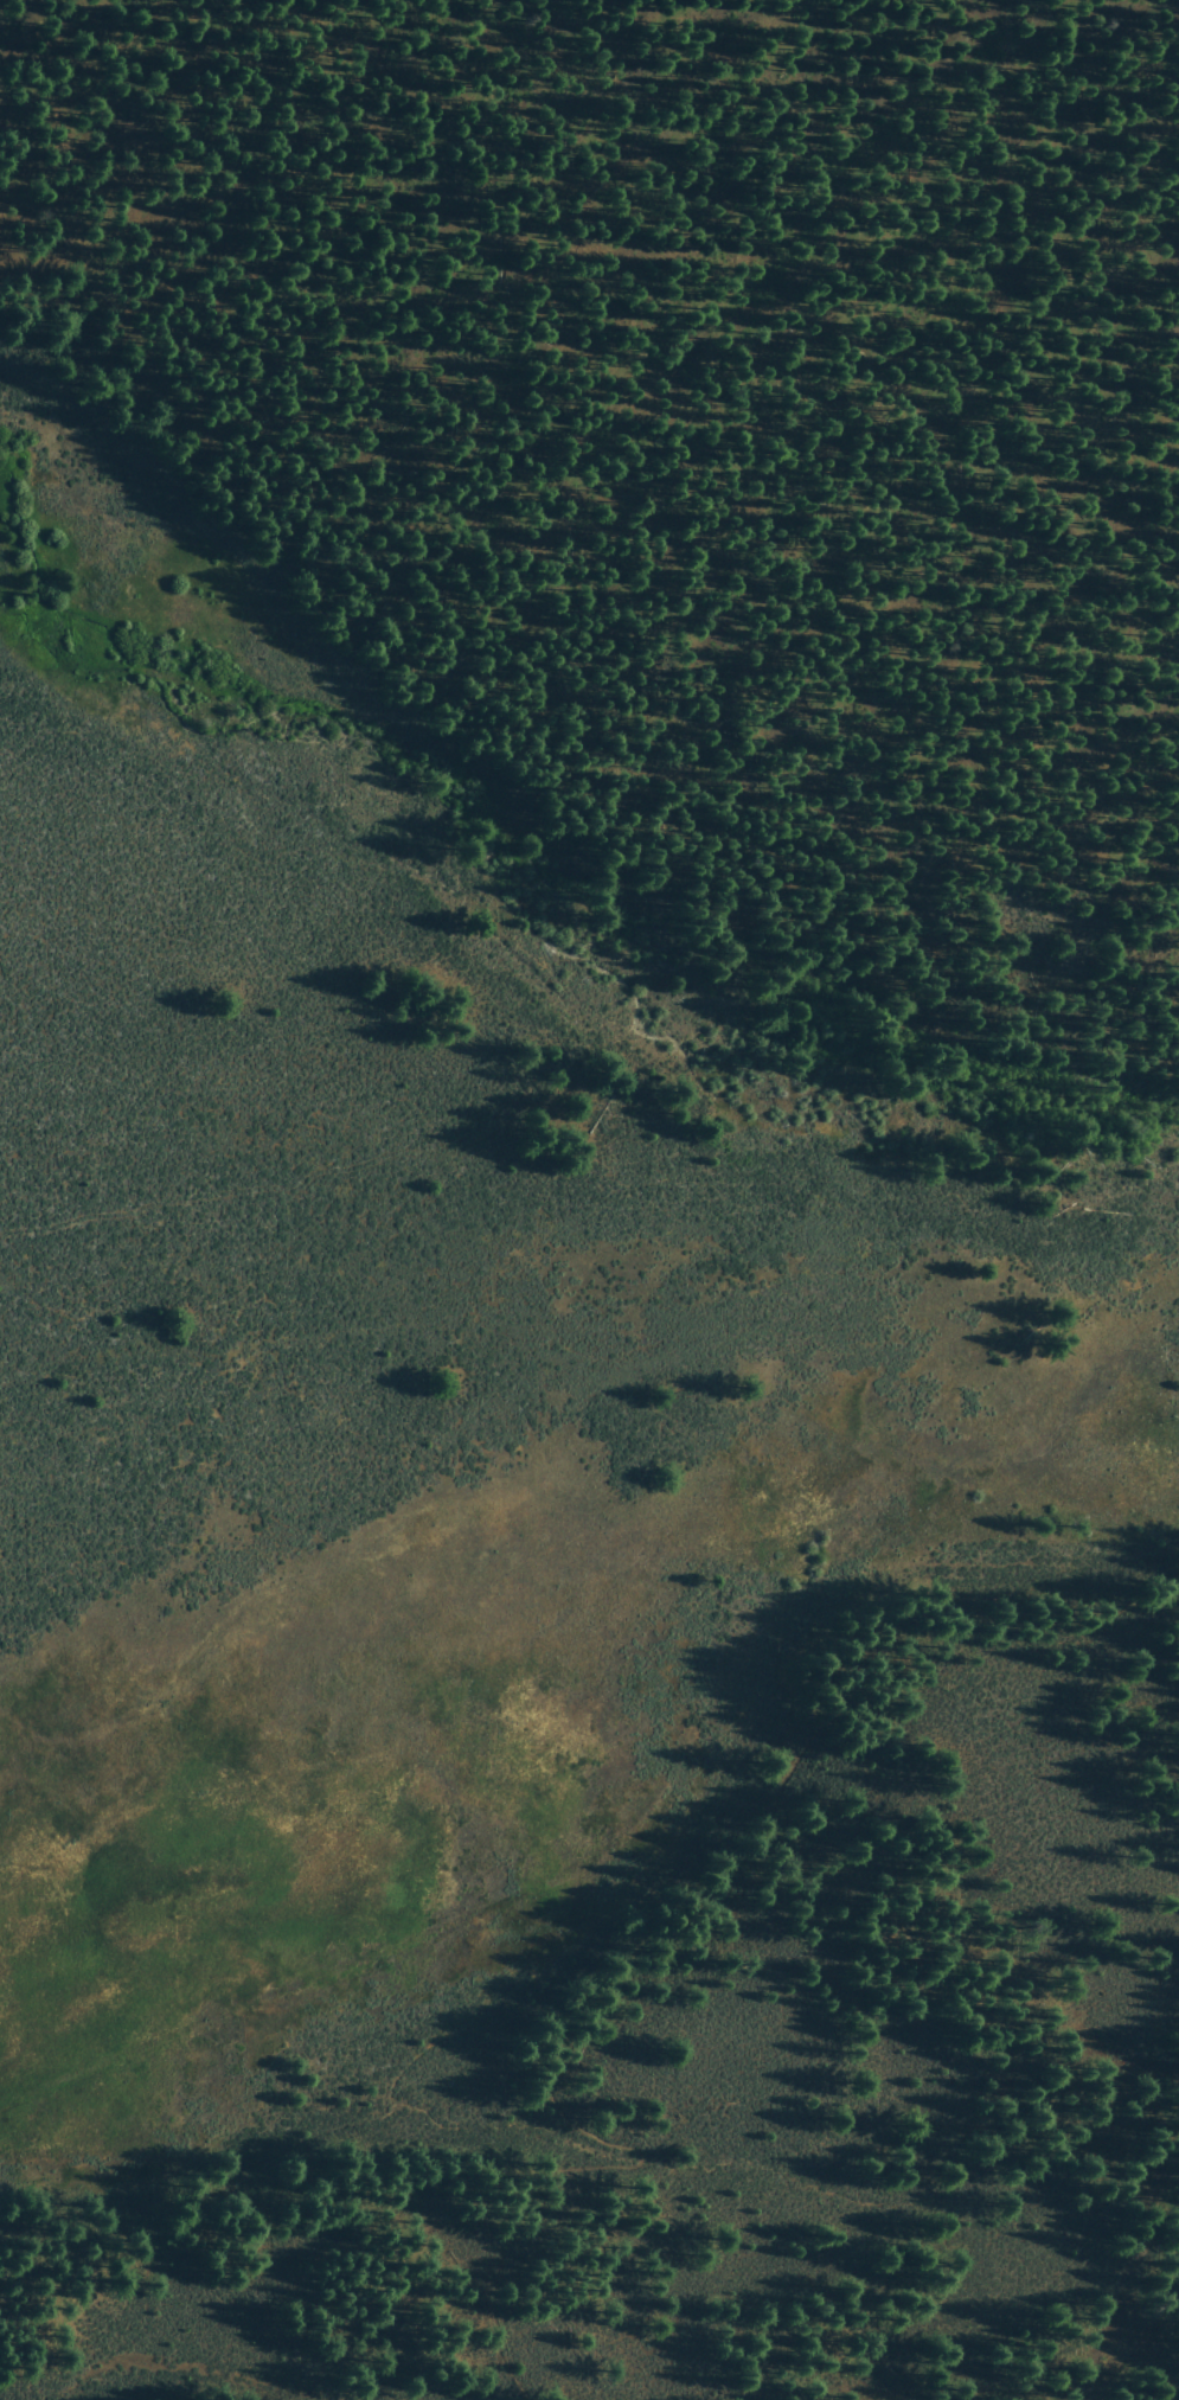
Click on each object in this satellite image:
road: (47, 40)
road: (1012, 346)
road: (588, 813)
road: (1108, 1043)
road: (591, 2014)

